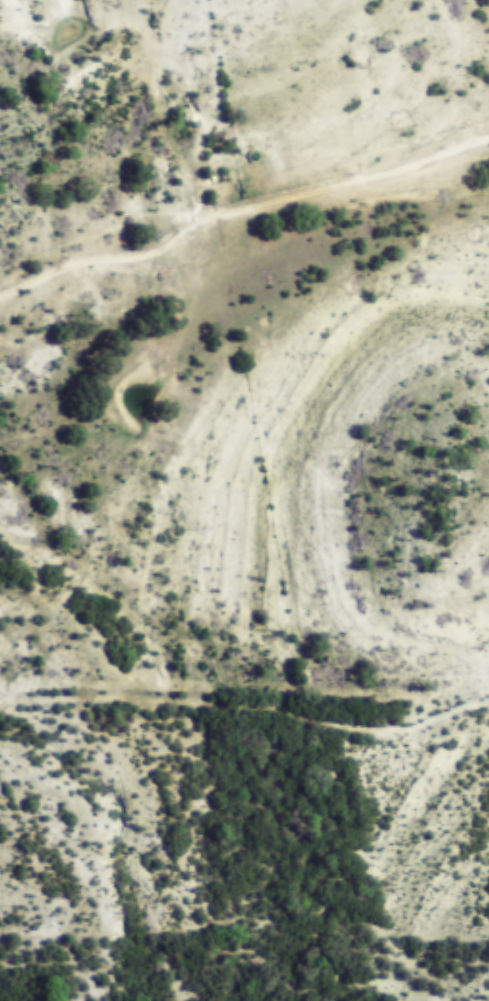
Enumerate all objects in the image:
road: (239, 206)

